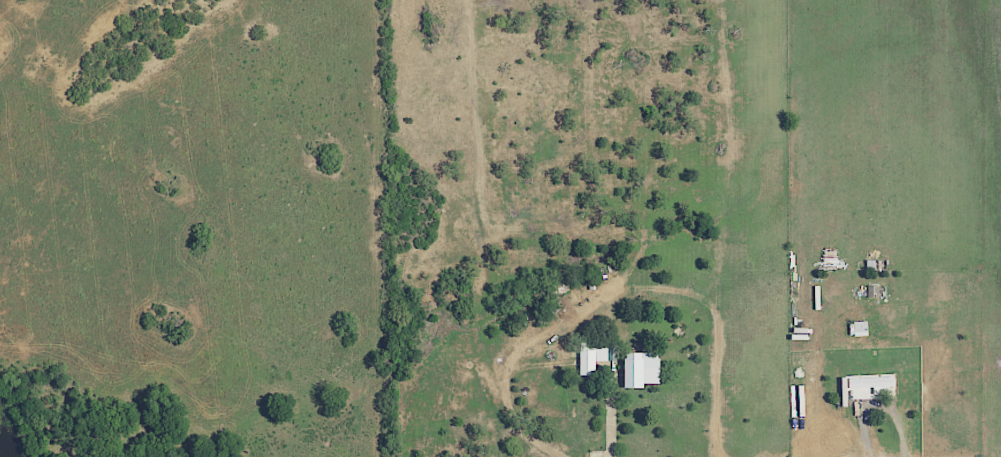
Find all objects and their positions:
building: (875, 291)
building: (860, 328)
building: (591, 359)
building: (640, 369)
road: (800, 369)
building: (868, 385)
road: (609, 421)

